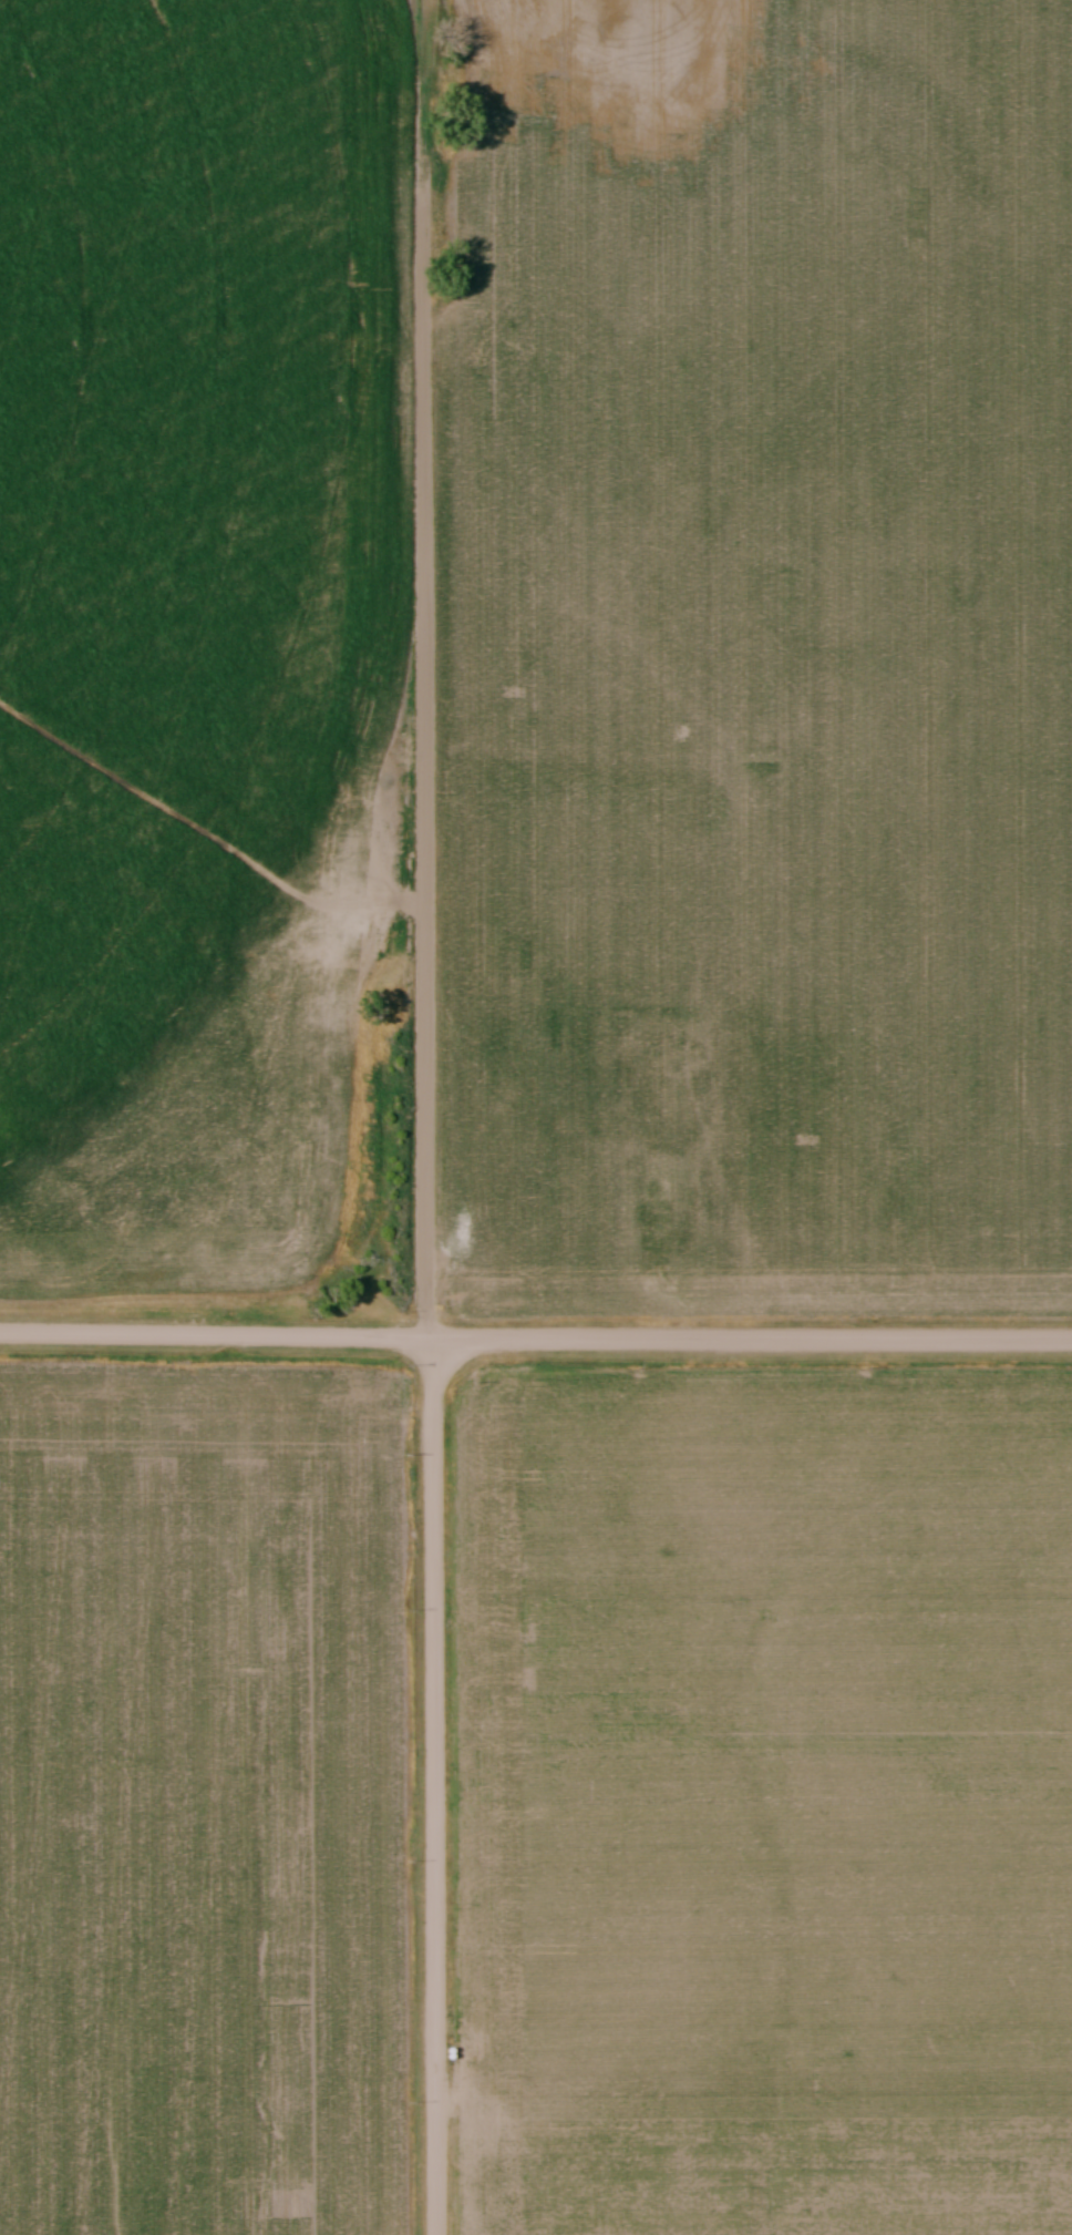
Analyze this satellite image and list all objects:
road: (430, 1117)
road: (535, 1340)

